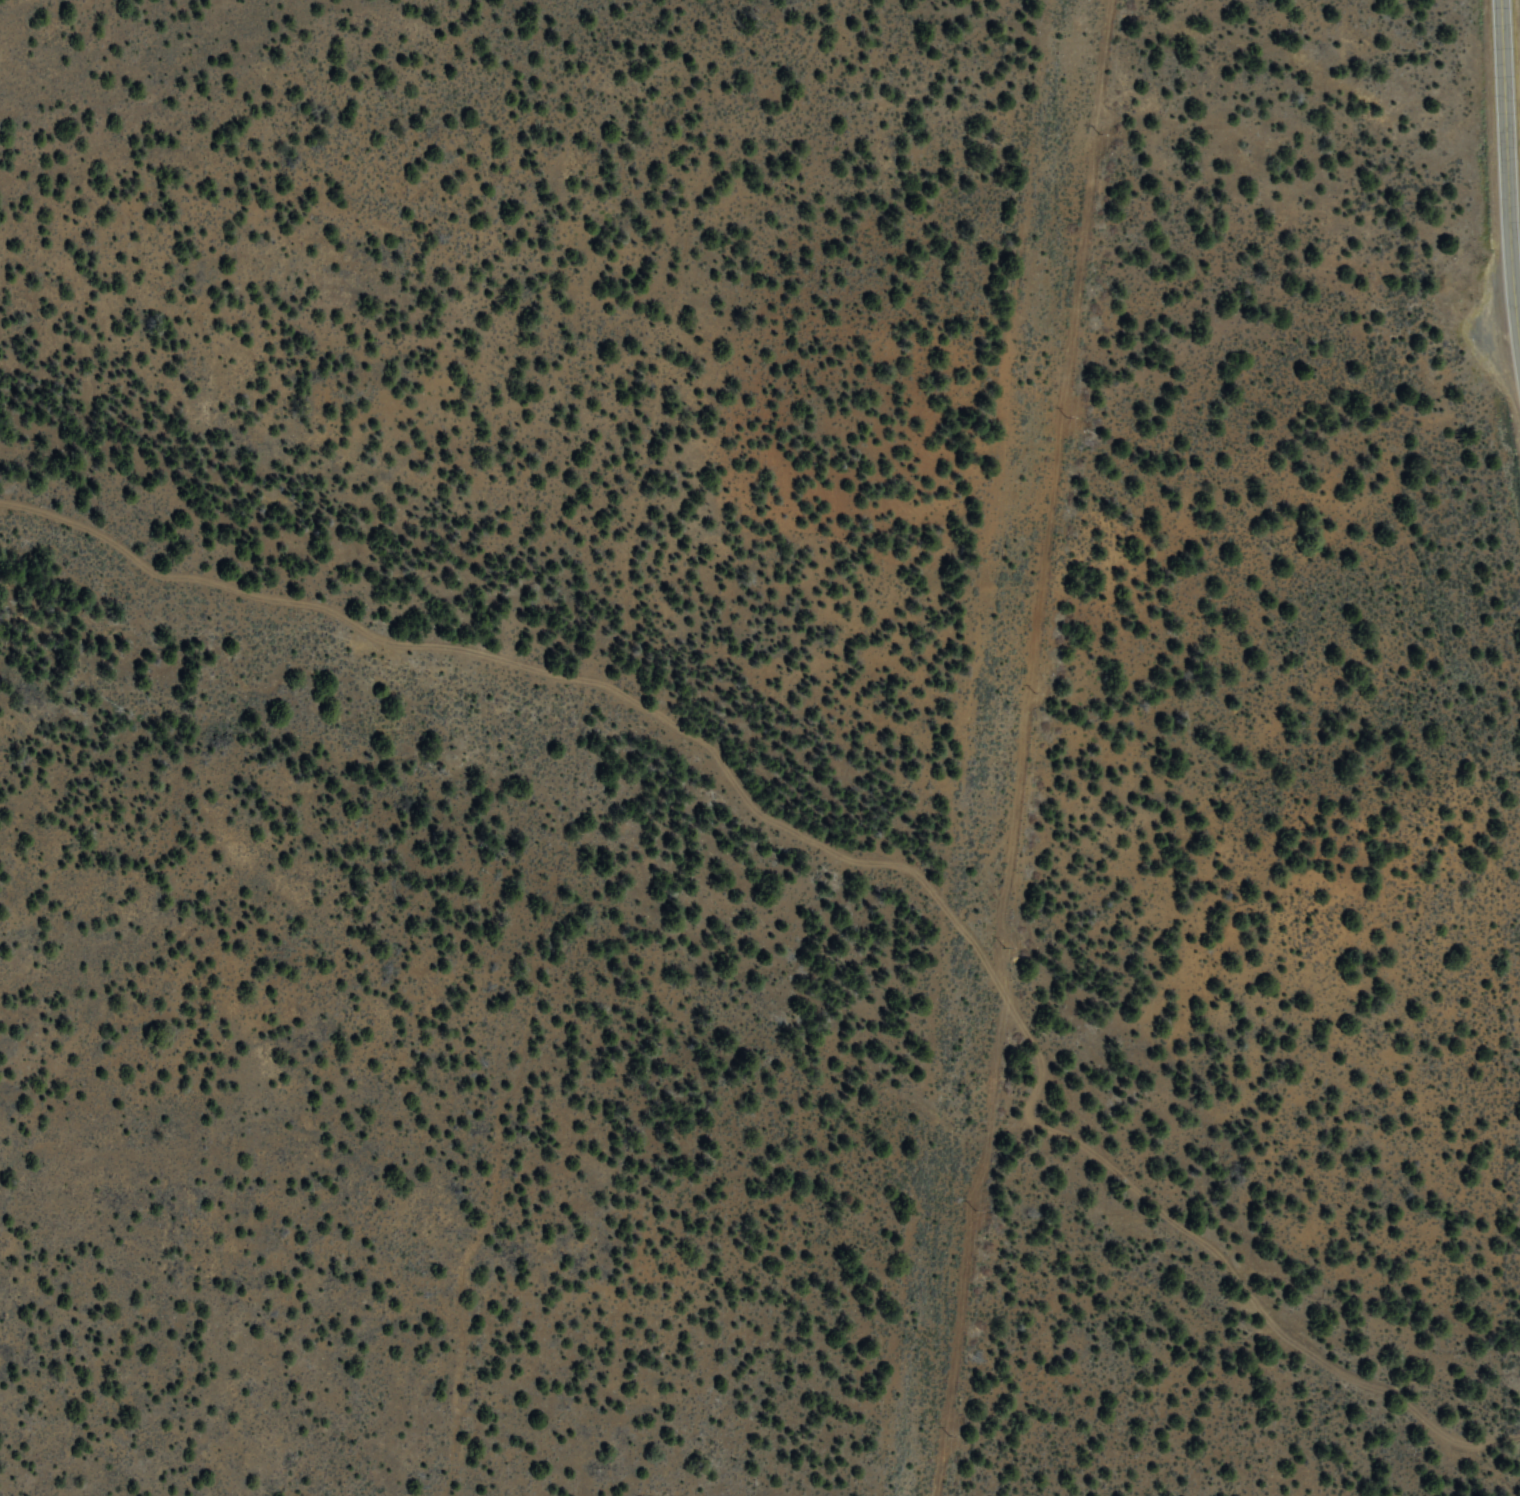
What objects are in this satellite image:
road: (1508, 169)

